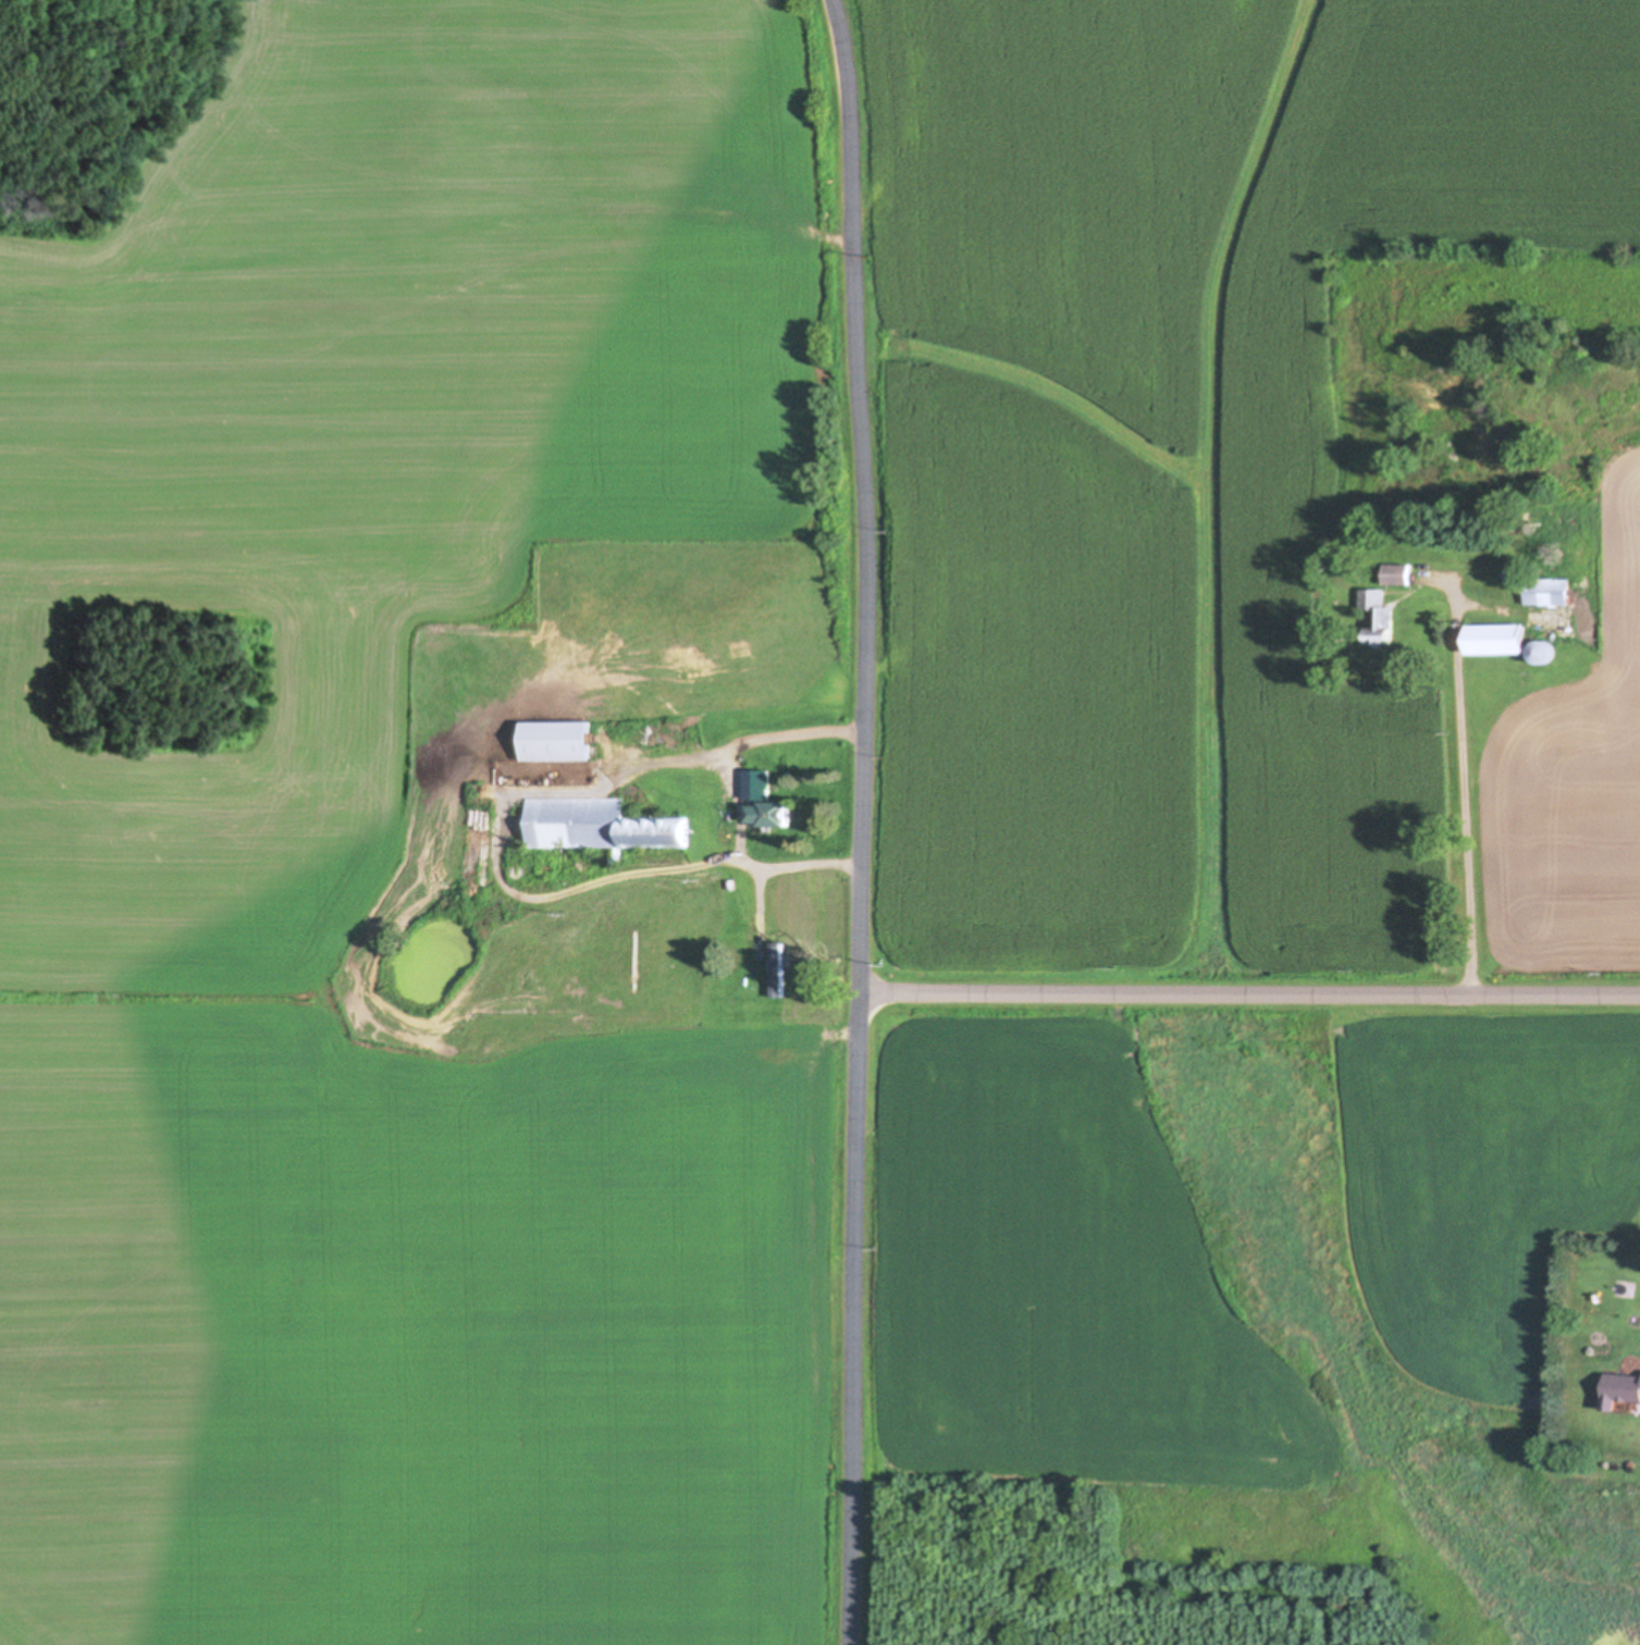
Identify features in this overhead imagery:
crop: (1209, 495)
building: (1395, 576)
building: (1544, 592)
building: (1378, 617)
building: (1495, 640)
building: (1540, 653)
building: (1559, 691)
building: (753, 723)
building: (556, 742)
building: (762, 803)
road: (1462, 814)
road: (862, 821)
building: (600, 827)
crop: (392, 852)
building: (775, 974)
road: (1249, 997)
building: (1621, 1390)

